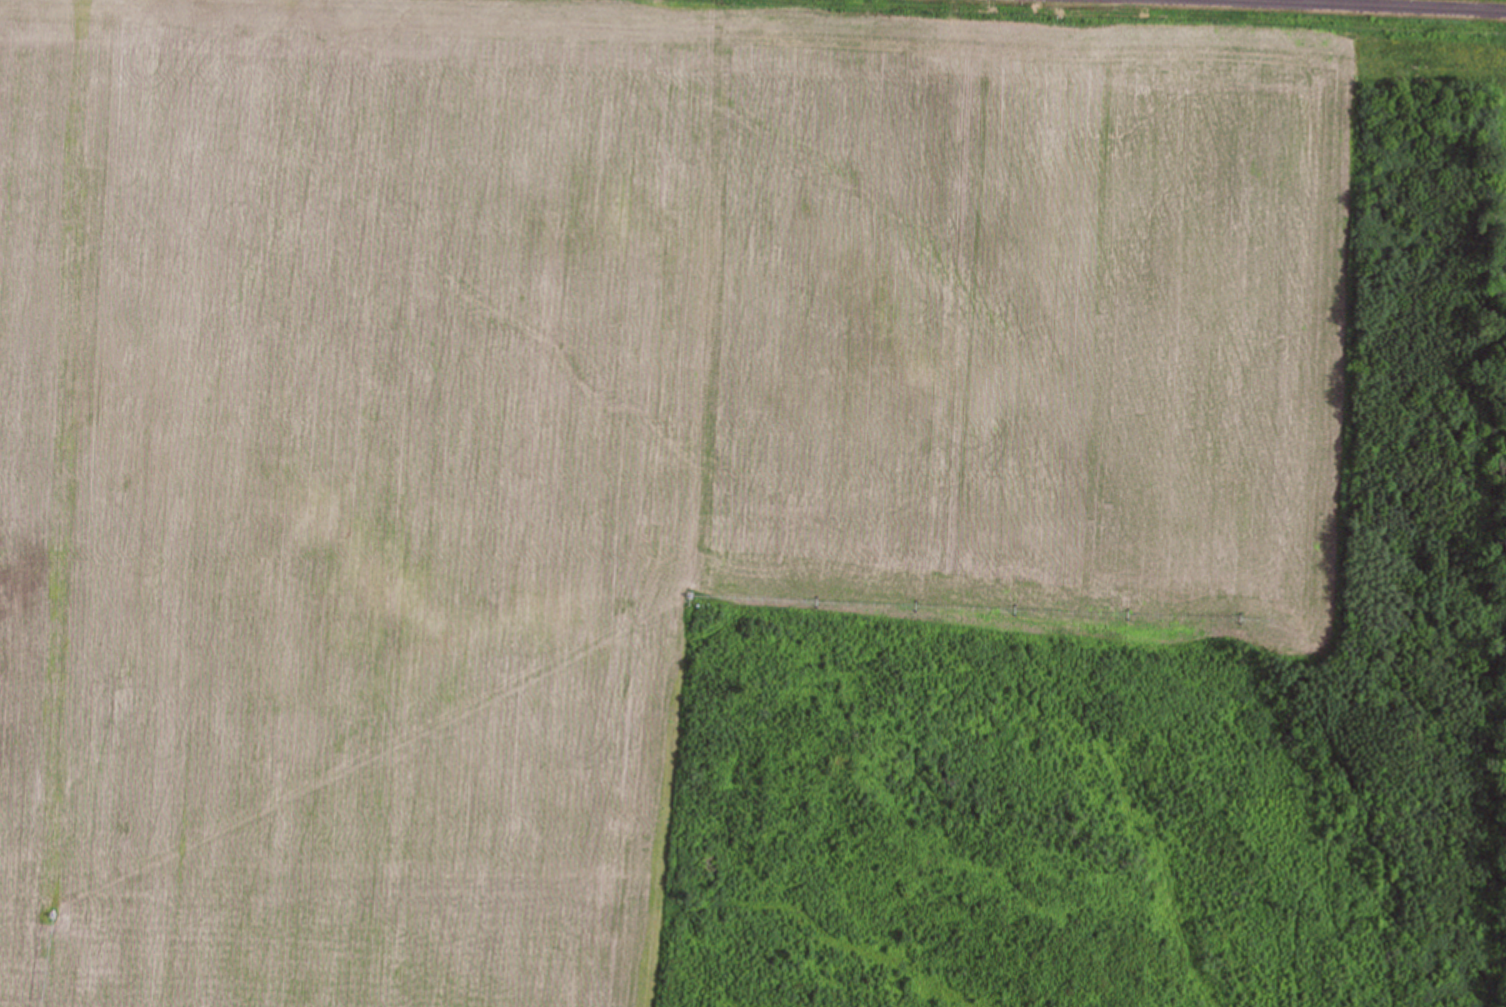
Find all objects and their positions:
road: (1363, 4)

